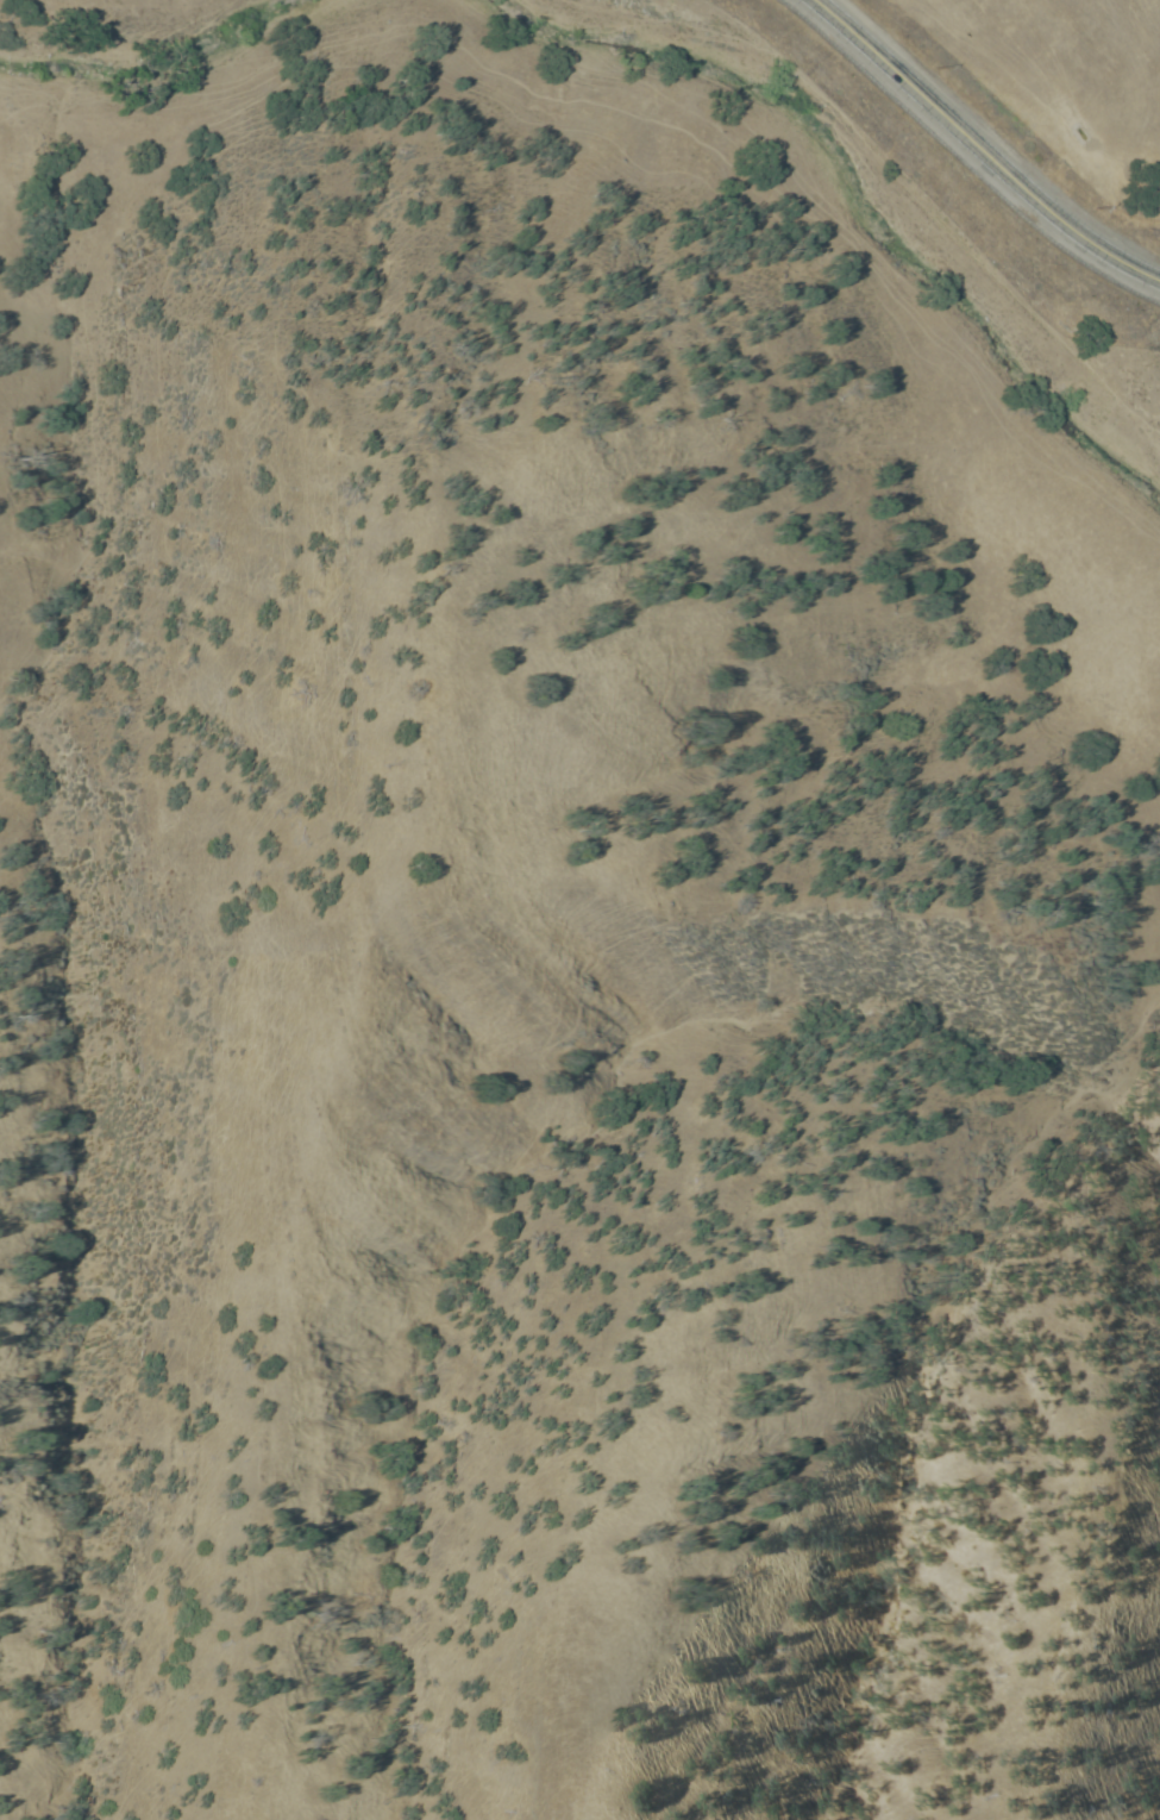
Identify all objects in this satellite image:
road: (996, 137)

